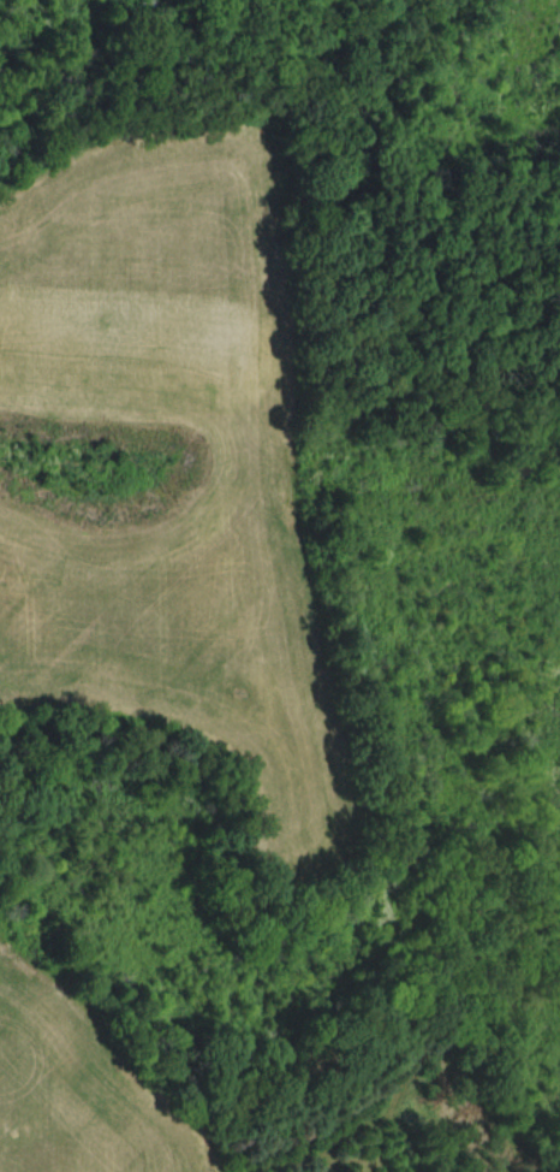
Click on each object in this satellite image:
crop: (171, 470)
crop: (88, 1082)

